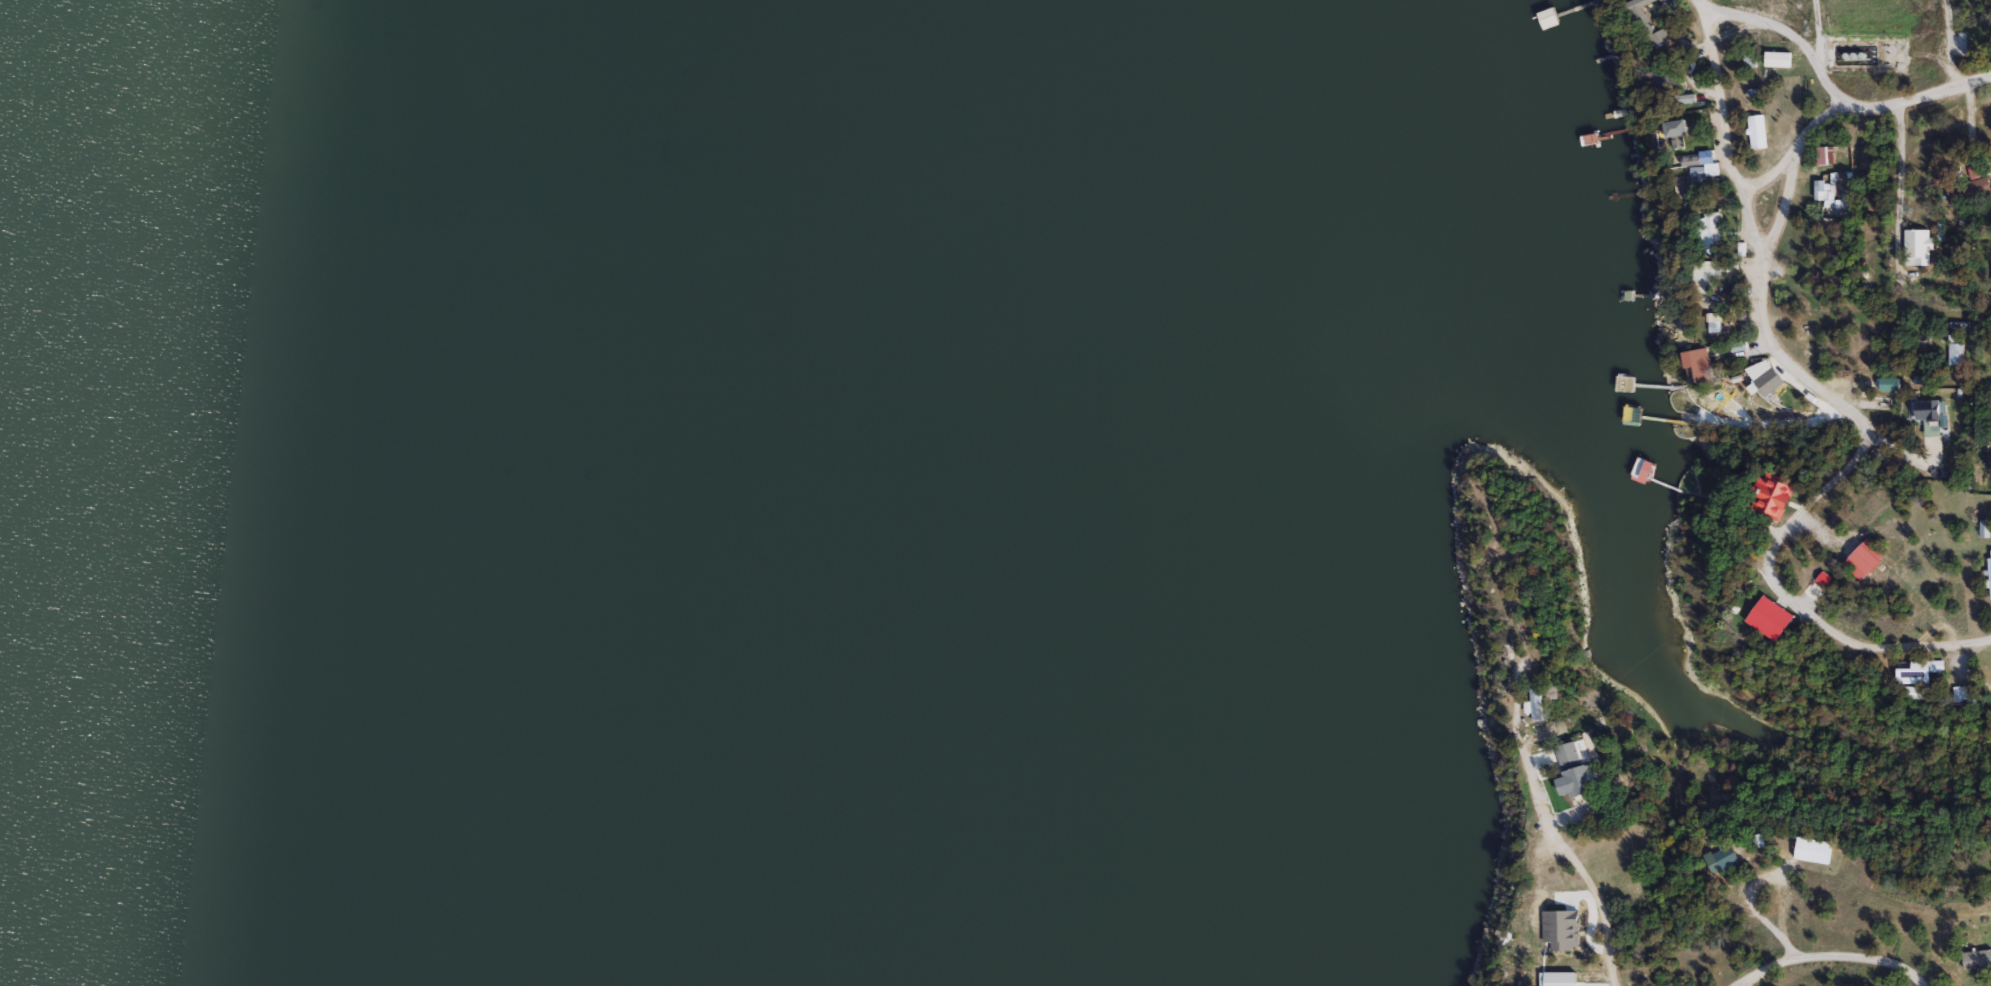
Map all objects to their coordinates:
building: (1663, 1)
building: (1550, 18)
building: (1648, 23)
road: (1782, 36)
building: (1748, 59)
building: (1658, 80)
building: (1685, 100)
building: (1679, 128)
building: (1756, 131)
road: (1815, 131)
building: (1824, 155)
road: (1730, 156)
building: (1702, 172)
building: (1973, 188)
building: (1823, 189)
building: (1845, 200)
road: (1890, 208)
building: (1712, 231)
building: (1917, 246)
building: (1955, 353)
building: (1703, 364)
building: (1931, 415)
building: (1776, 500)
road: (1778, 533)
building: (1866, 559)
building: (1989, 574)
building: (1915, 683)
building: (1577, 771)
road: (1553, 809)
building: (1816, 850)
building: (1728, 858)
road: (1764, 920)
road: (1830, 955)
building: (1977, 959)

